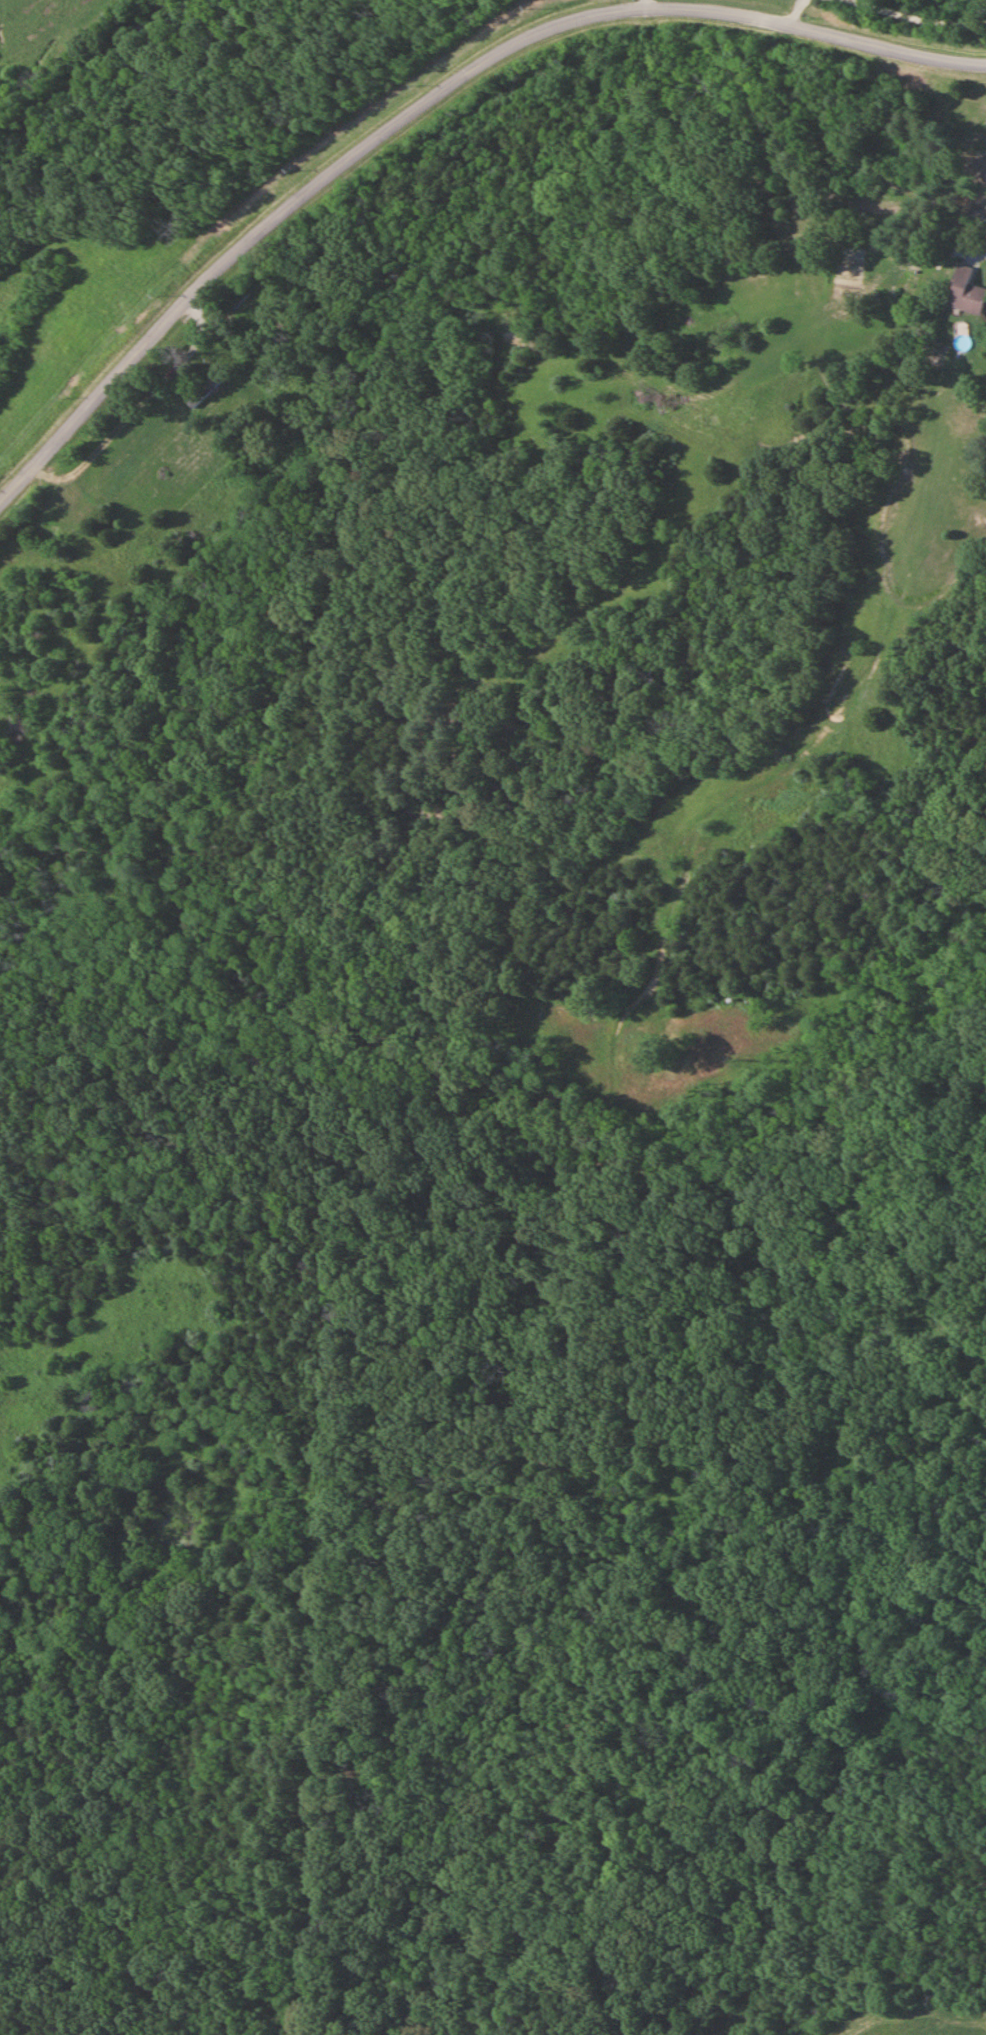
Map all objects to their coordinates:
road: (794, 13)
road: (908, 21)
road: (423, 89)
building: (964, 291)
road: (136, 406)

